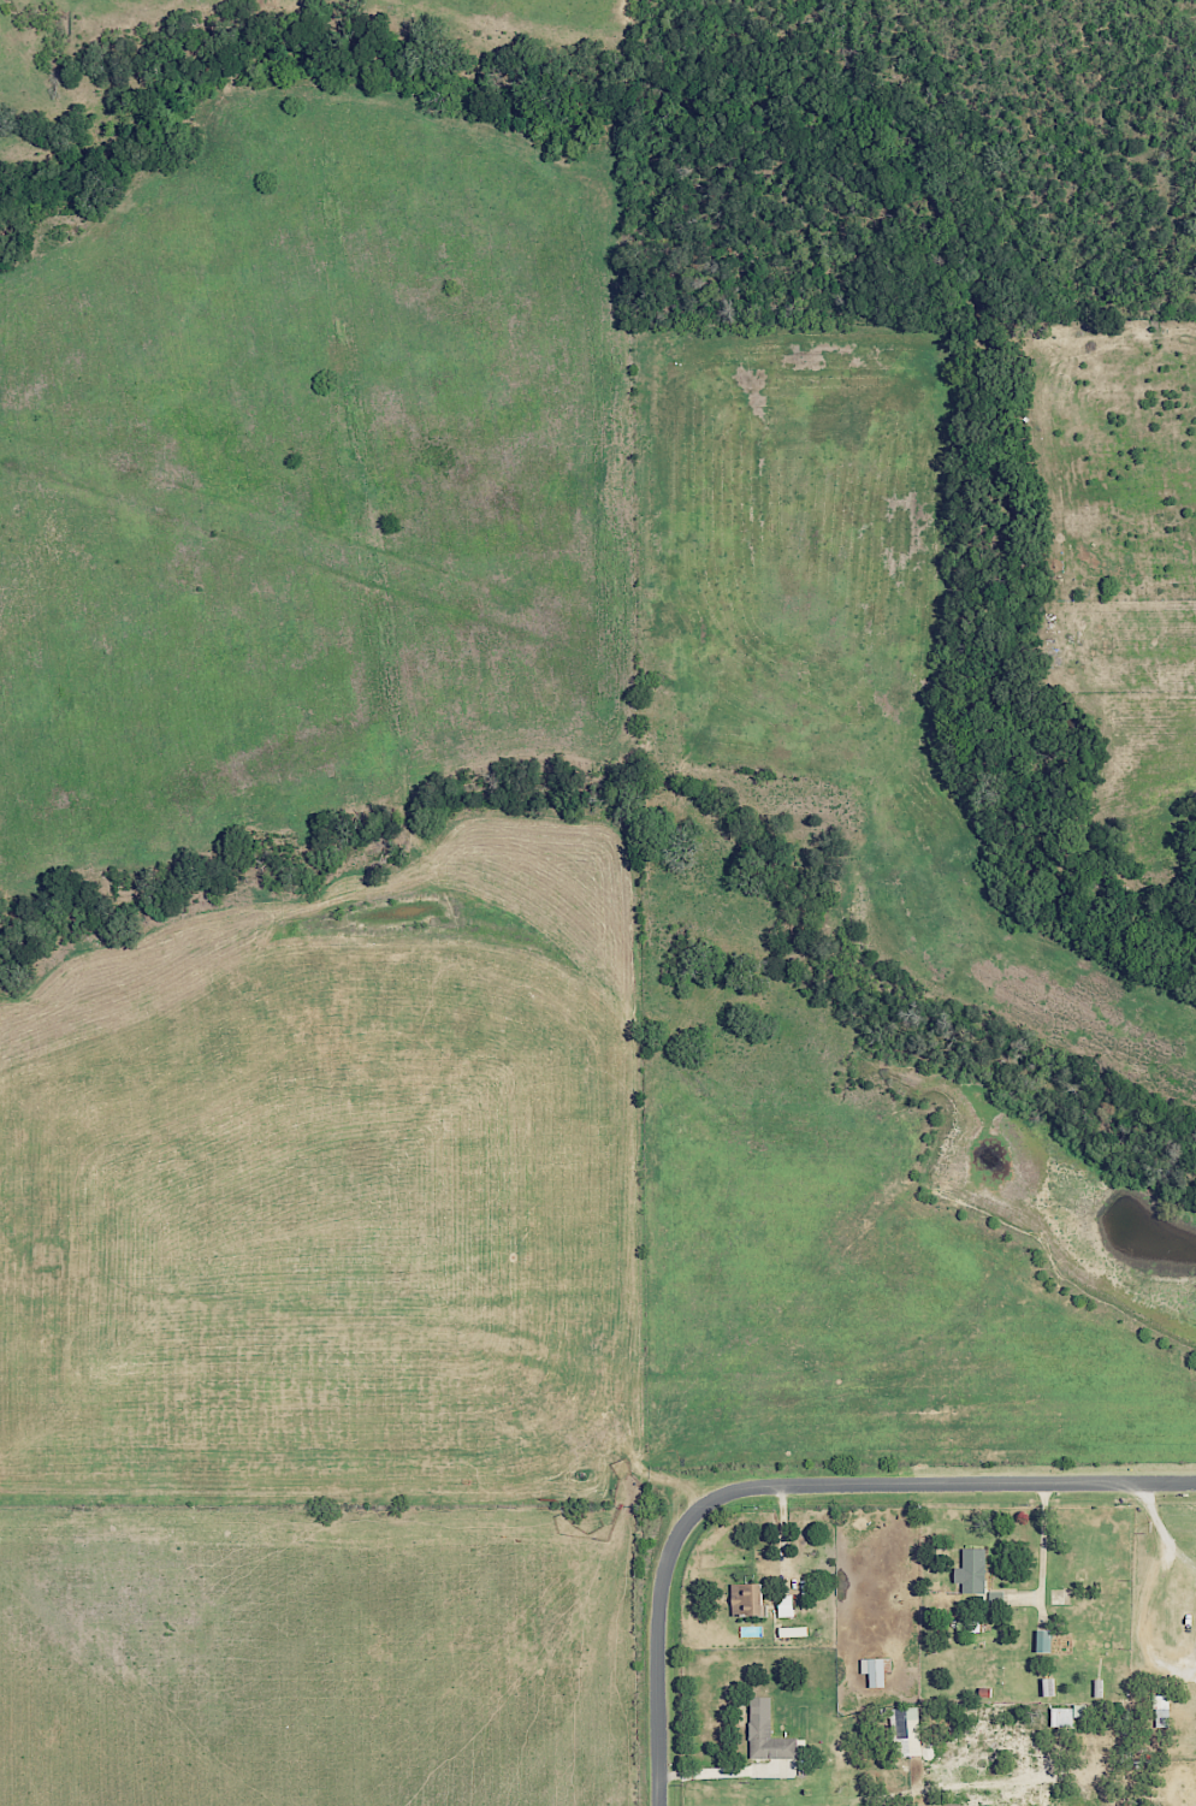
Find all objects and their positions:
road: (791, 1486)
road: (1162, 1530)
road: (1042, 1540)
building: (975, 1570)
building: (751, 1598)
building: (788, 1607)
building: (792, 1632)
building: (1047, 1640)
building: (878, 1669)
building: (1048, 1686)
building: (1070, 1715)
building: (905, 1729)
building: (770, 1733)

